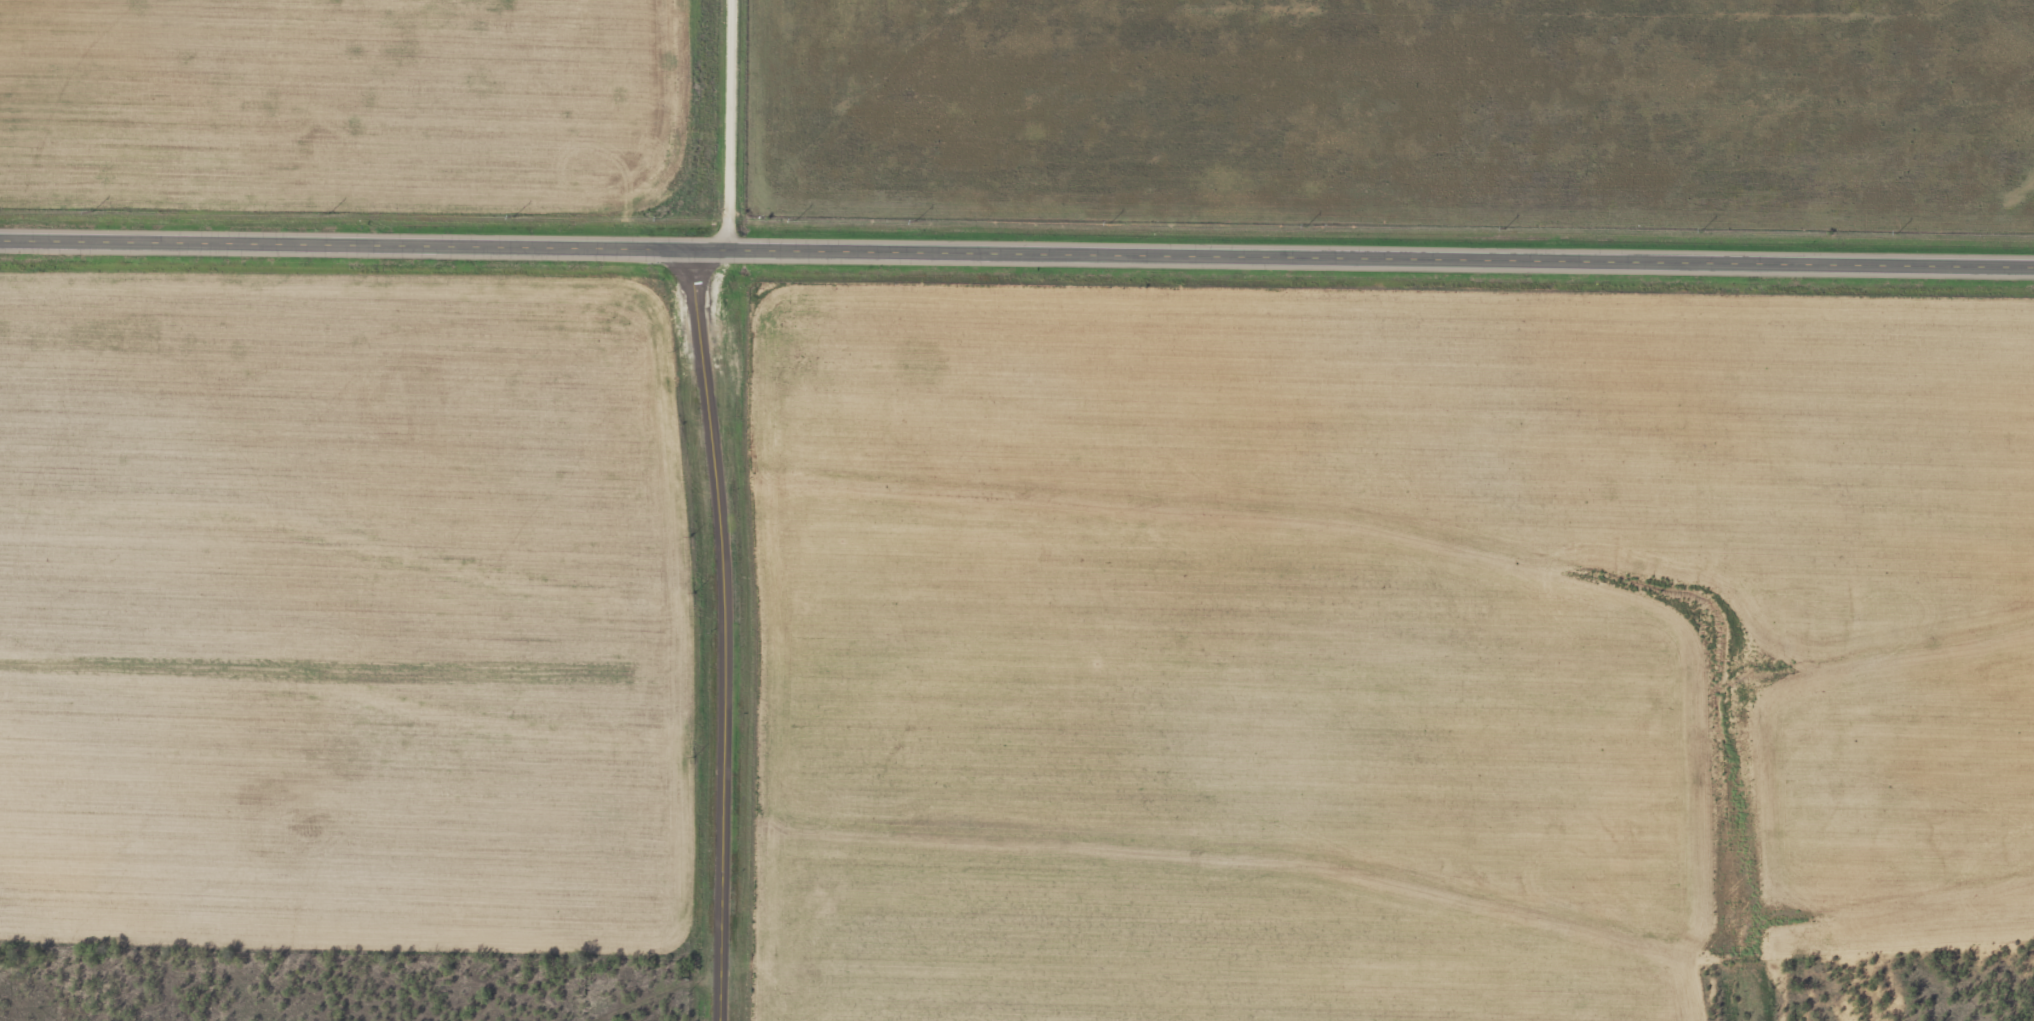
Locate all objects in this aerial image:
road: (734, 128)
road: (1016, 259)
road: (720, 637)
road: (650, 994)

